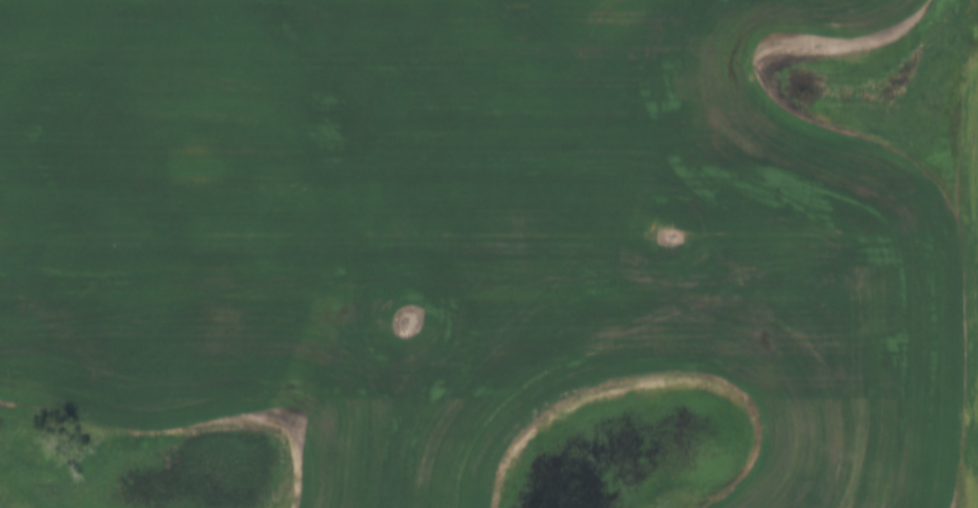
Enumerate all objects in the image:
road: (972, 282)

